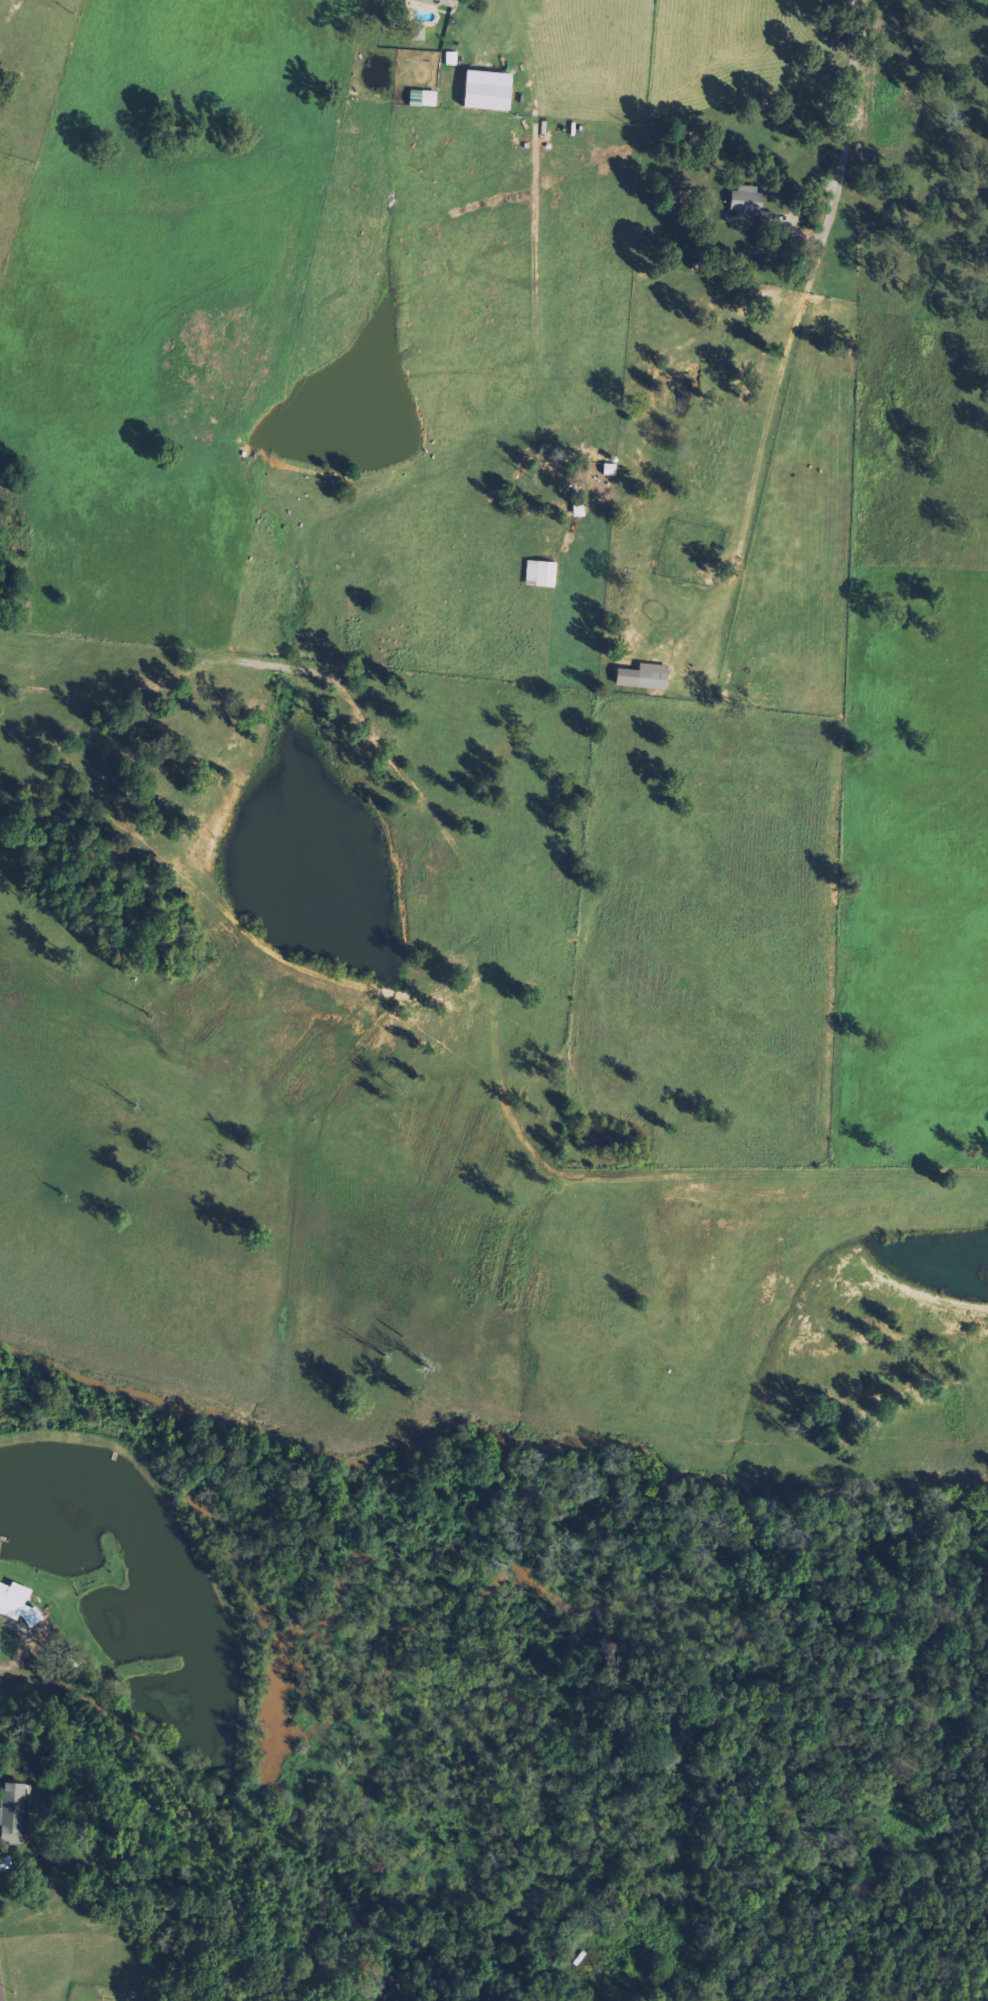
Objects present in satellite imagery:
building: (439, 2)
building: (490, 91)
building: (429, 99)
building: (747, 201)
building: (541, 574)
building: (645, 677)
building: (18, 1604)
building: (15, 1813)
building: (6, 1864)
road: (4, 1975)

